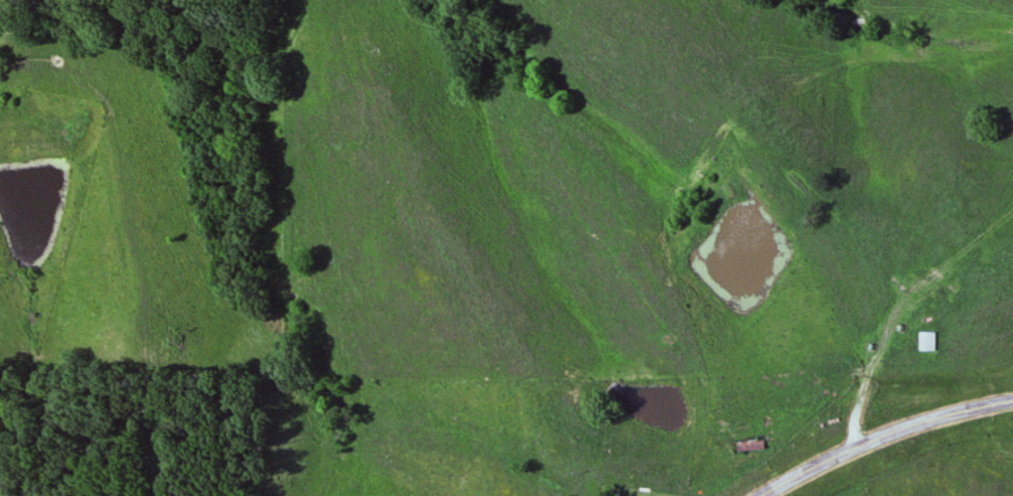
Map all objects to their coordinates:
building: (928, 342)
road: (869, 389)
road: (878, 432)

